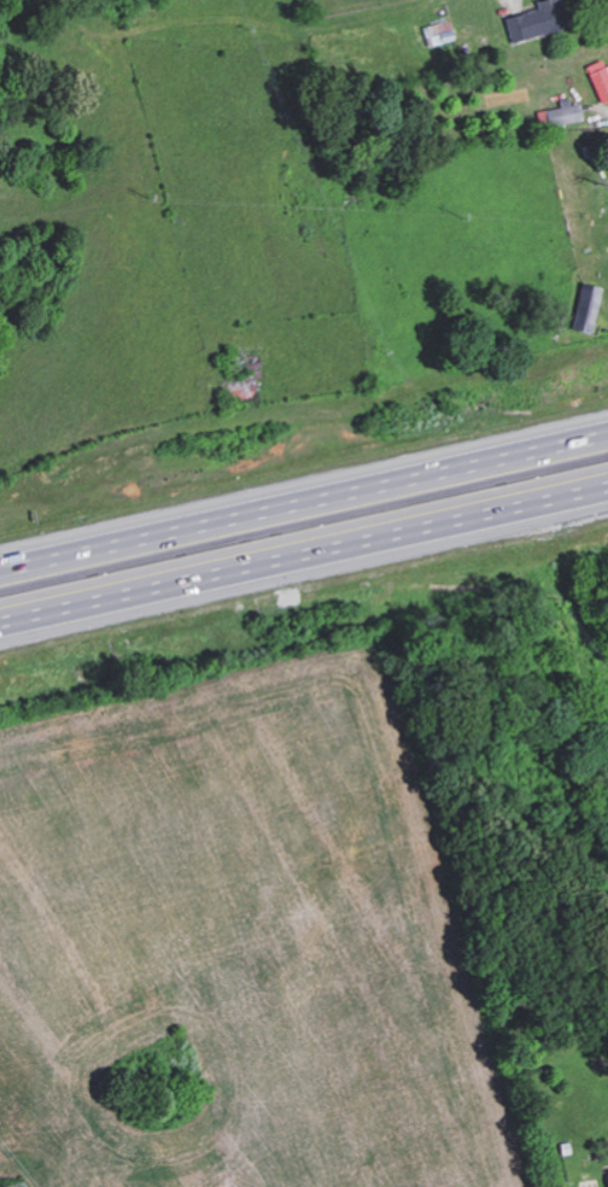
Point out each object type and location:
building: (526, 23)
building: (437, 33)
building: (598, 80)
building: (561, 112)
building: (585, 306)
road: (303, 491)
road: (304, 568)
building: (607, 1173)

